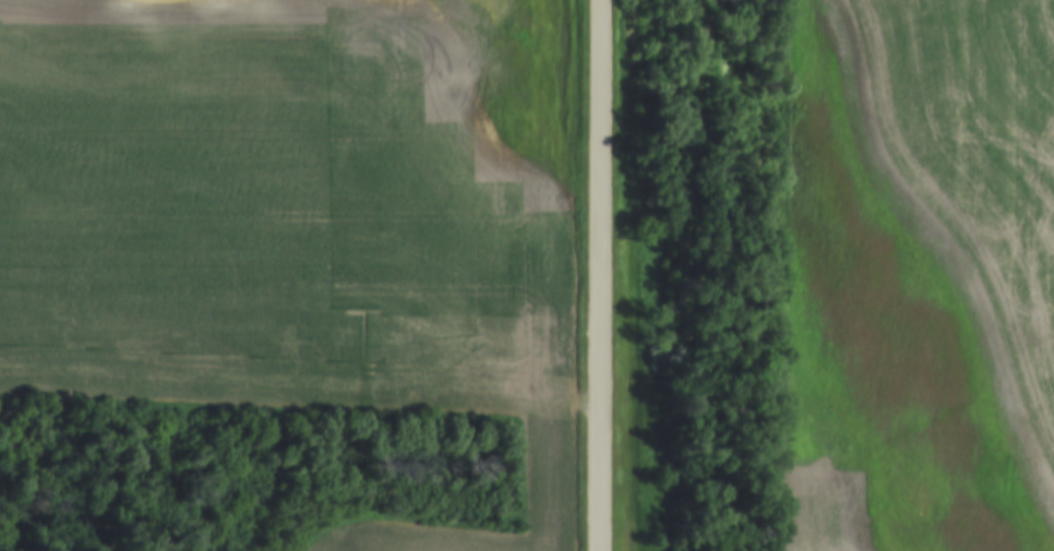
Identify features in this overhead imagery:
road: (608, 275)

